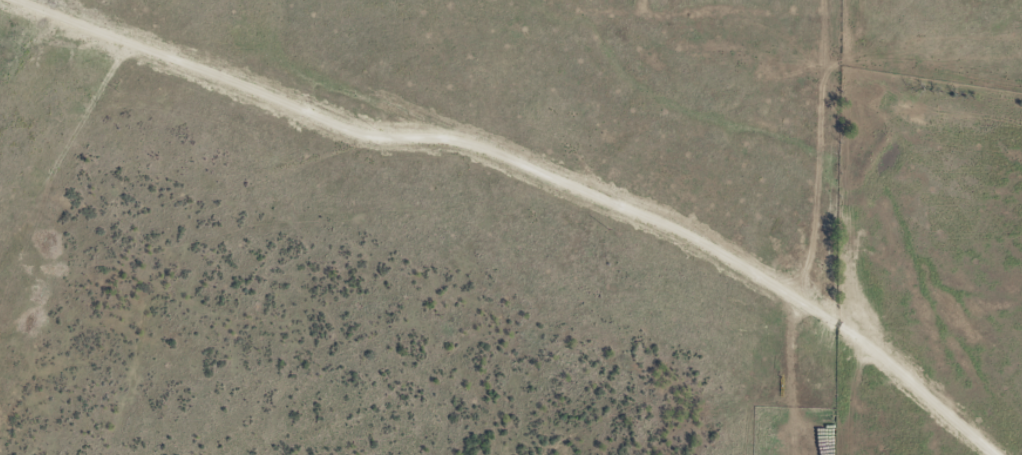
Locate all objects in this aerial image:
road: (629, 224)

